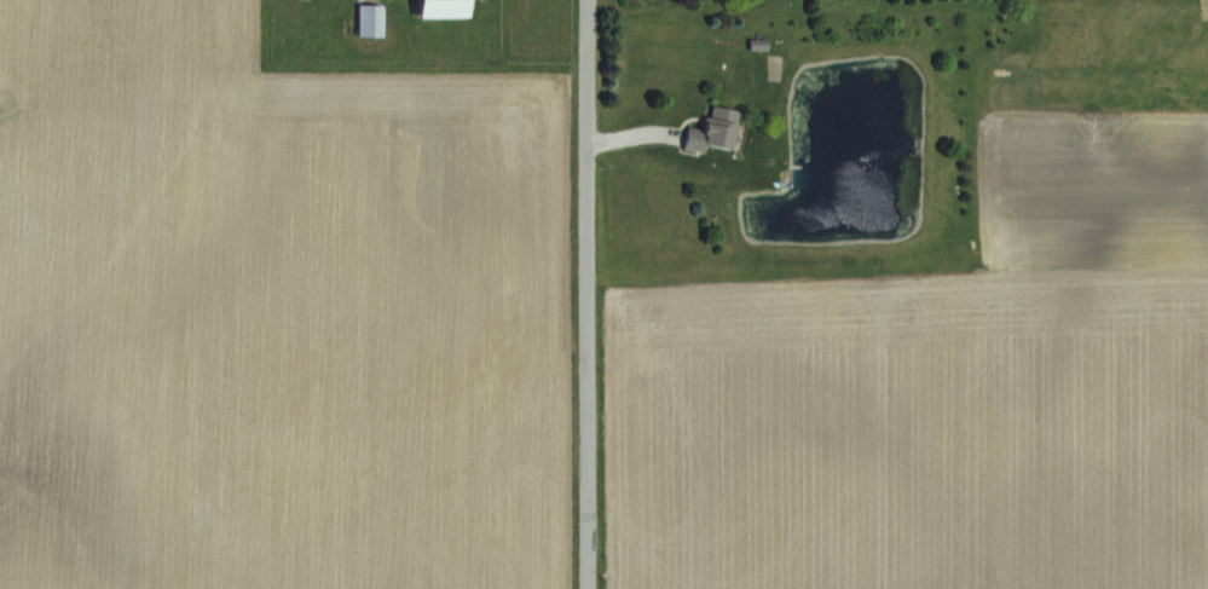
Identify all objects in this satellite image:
building: (451, 8)
building: (375, 19)
building: (718, 131)
road: (586, 294)

